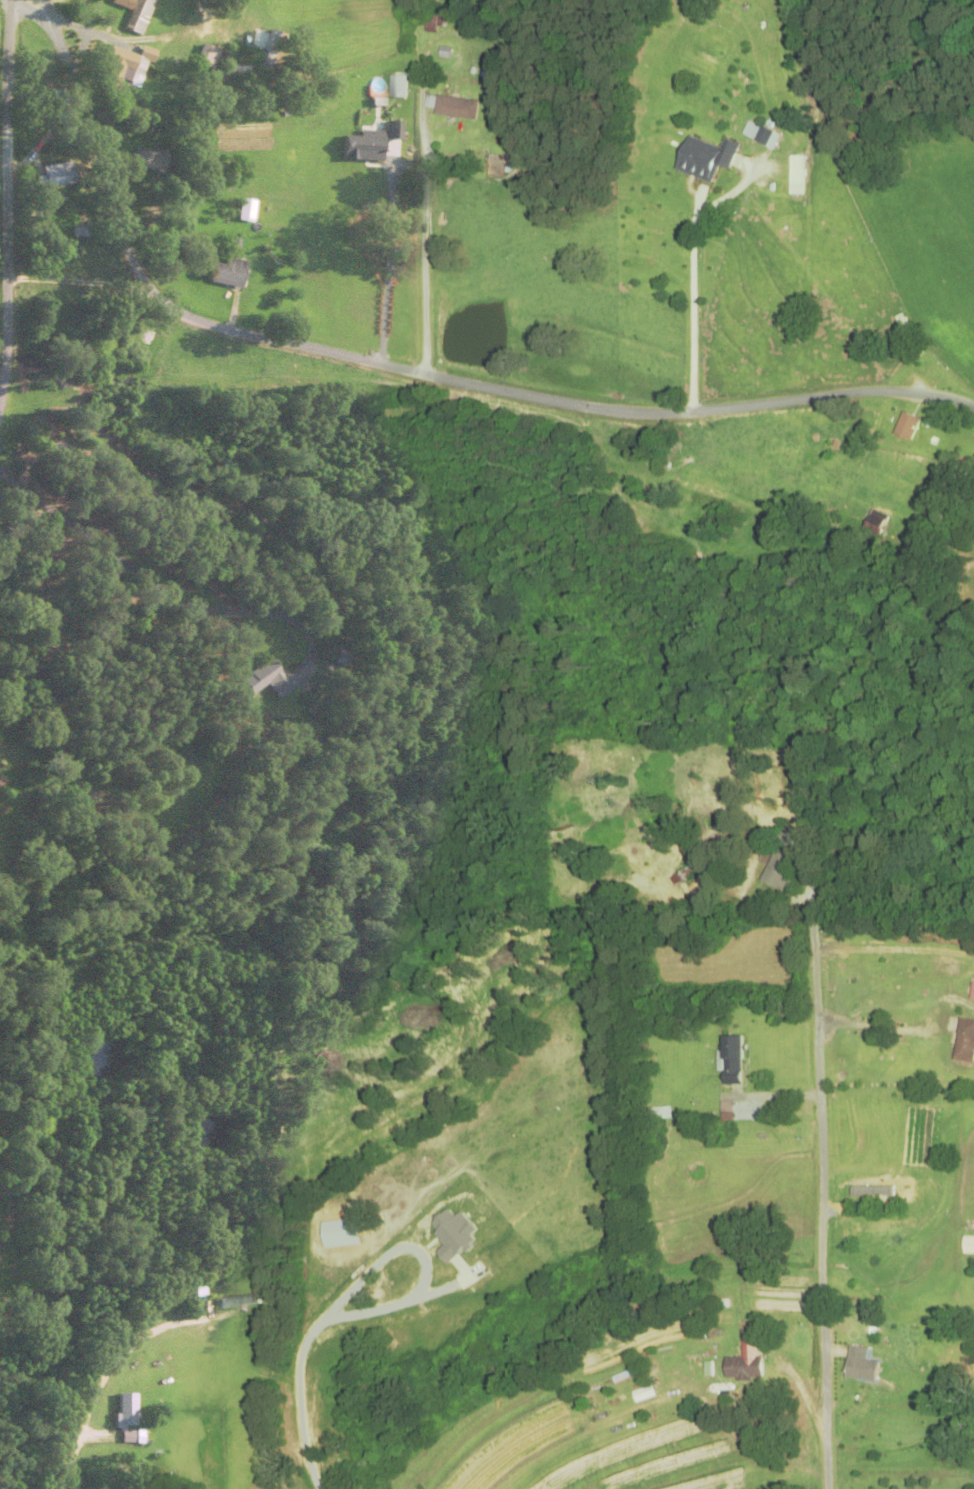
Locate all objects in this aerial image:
building: (134, 16)
building: (196, 55)
building: (111, 69)
building: (397, 87)
building: (454, 109)
building: (757, 134)
building: (364, 143)
building: (703, 159)
building: (140, 160)
building: (795, 175)
building: (46, 176)
road: (4, 196)
building: (226, 271)
road: (826, 295)
road: (780, 298)
road: (394, 365)
building: (905, 426)
building: (875, 521)
building: (260, 680)
building: (1, 774)
building: (781, 861)
building: (972, 993)
building: (964, 1042)
building: (730, 1061)
road: (821, 1191)
building: (967, 1245)
building: (859, 1366)
building: (741, 1369)
building: (733, 1389)
building: (643, 1395)
building: (119, 1413)

